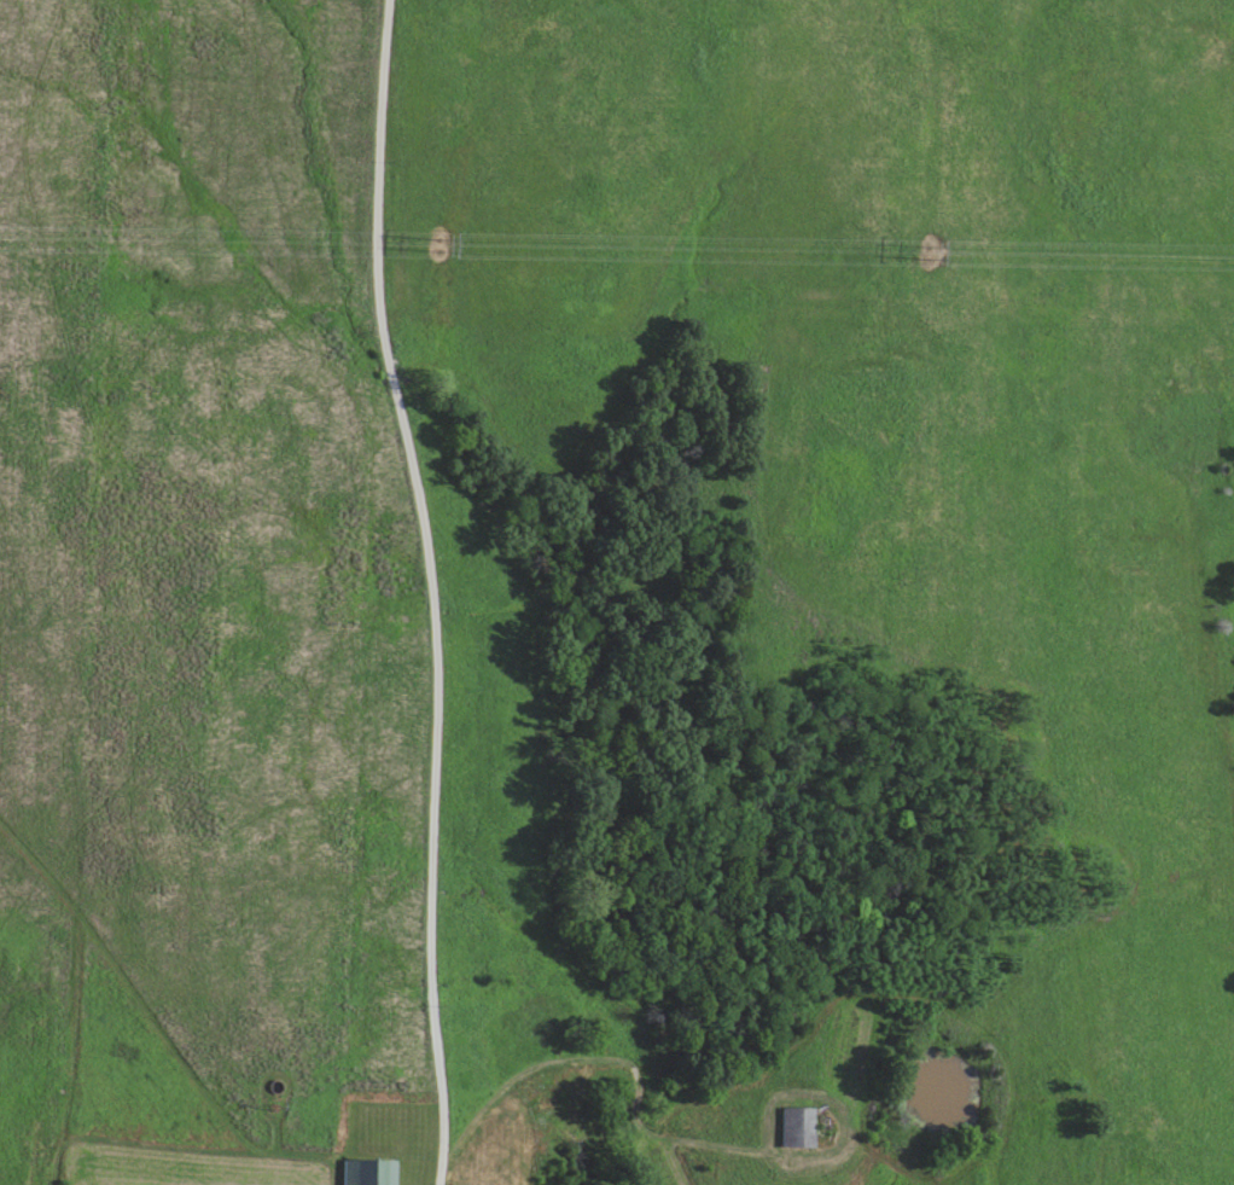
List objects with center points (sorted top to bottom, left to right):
power tower: (440, 240)
power tower: (925, 250)
road: (431, 589)
building: (794, 1129)
building: (363, 1173)

